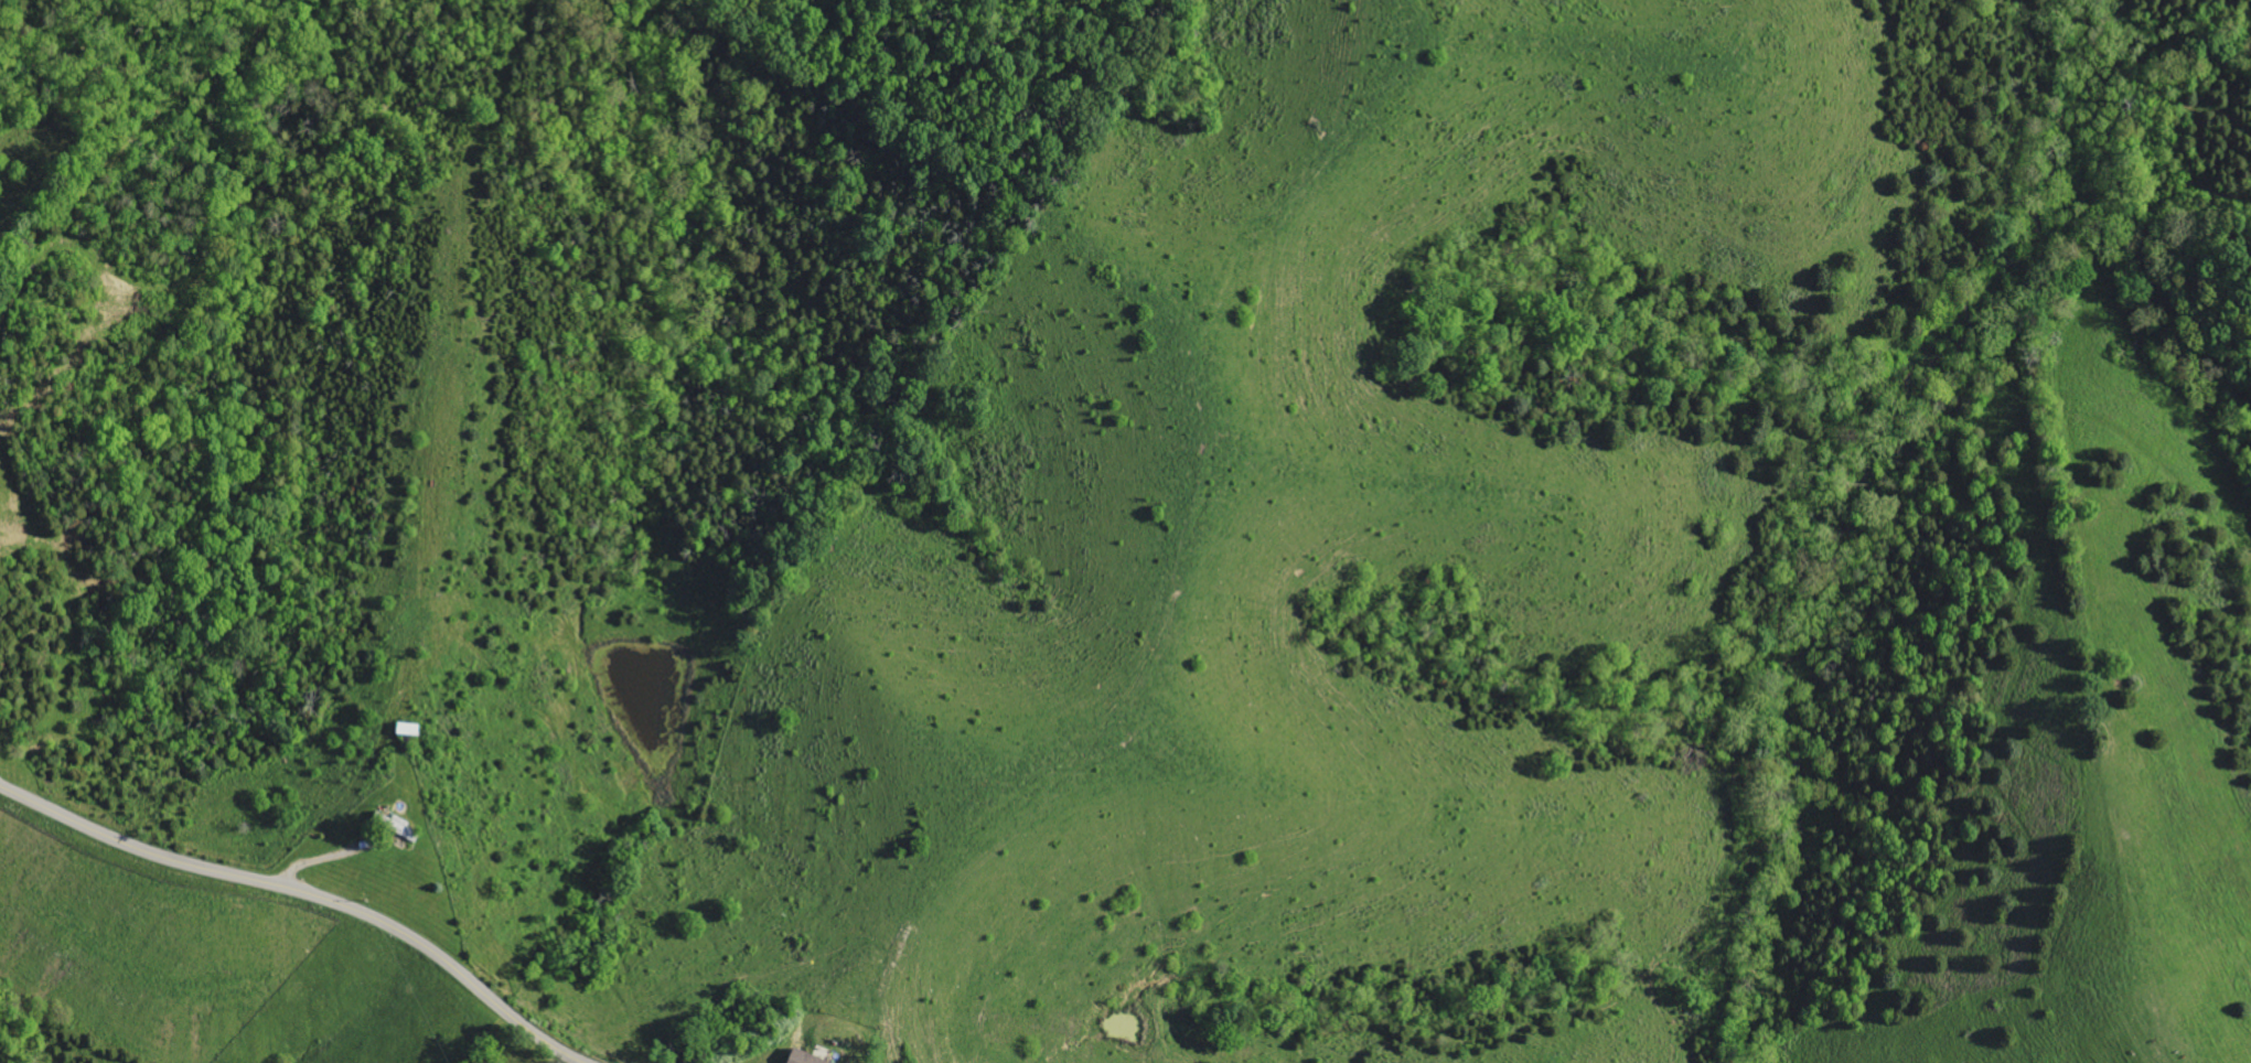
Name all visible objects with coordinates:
road: (307, 894)
building: (806, 1057)

